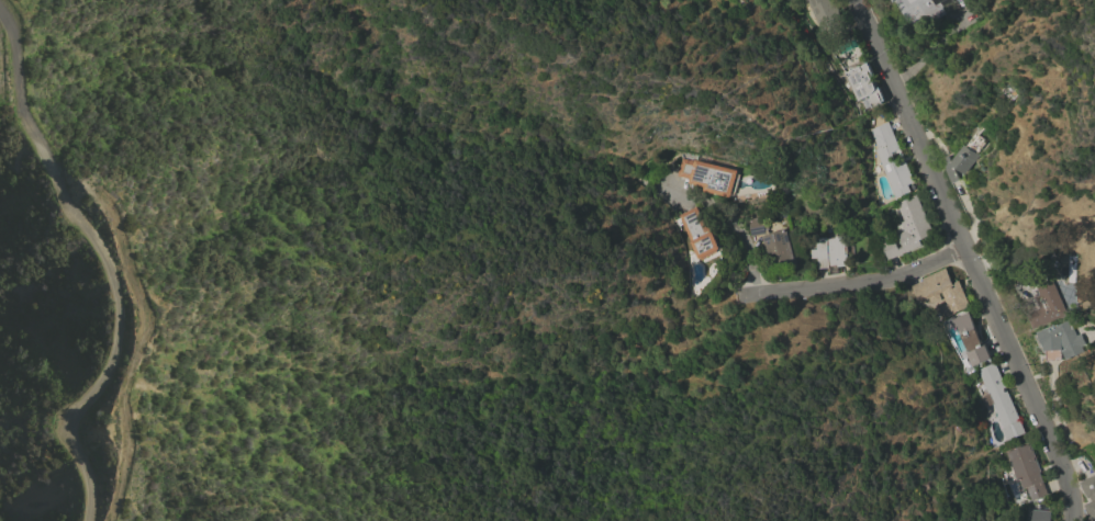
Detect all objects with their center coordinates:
building: (921, 11)
building: (825, 14)
building: (864, 84)
building: (963, 158)
building: (891, 159)
building: (708, 175)
road: (734, 224)
building: (908, 228)
building: (700, 233)
building: (773, 242)
building: (829, 251)
road: (966, 258)
road: (105, 262)
road: (846, 281)
building: (941, 292)
building: (1044, 306)
building: (970, 339)
building: (1062, 339)
building: (1001, 401)
building: (1027, 471)
building: (1090, 495)
building: (1038, 514)

